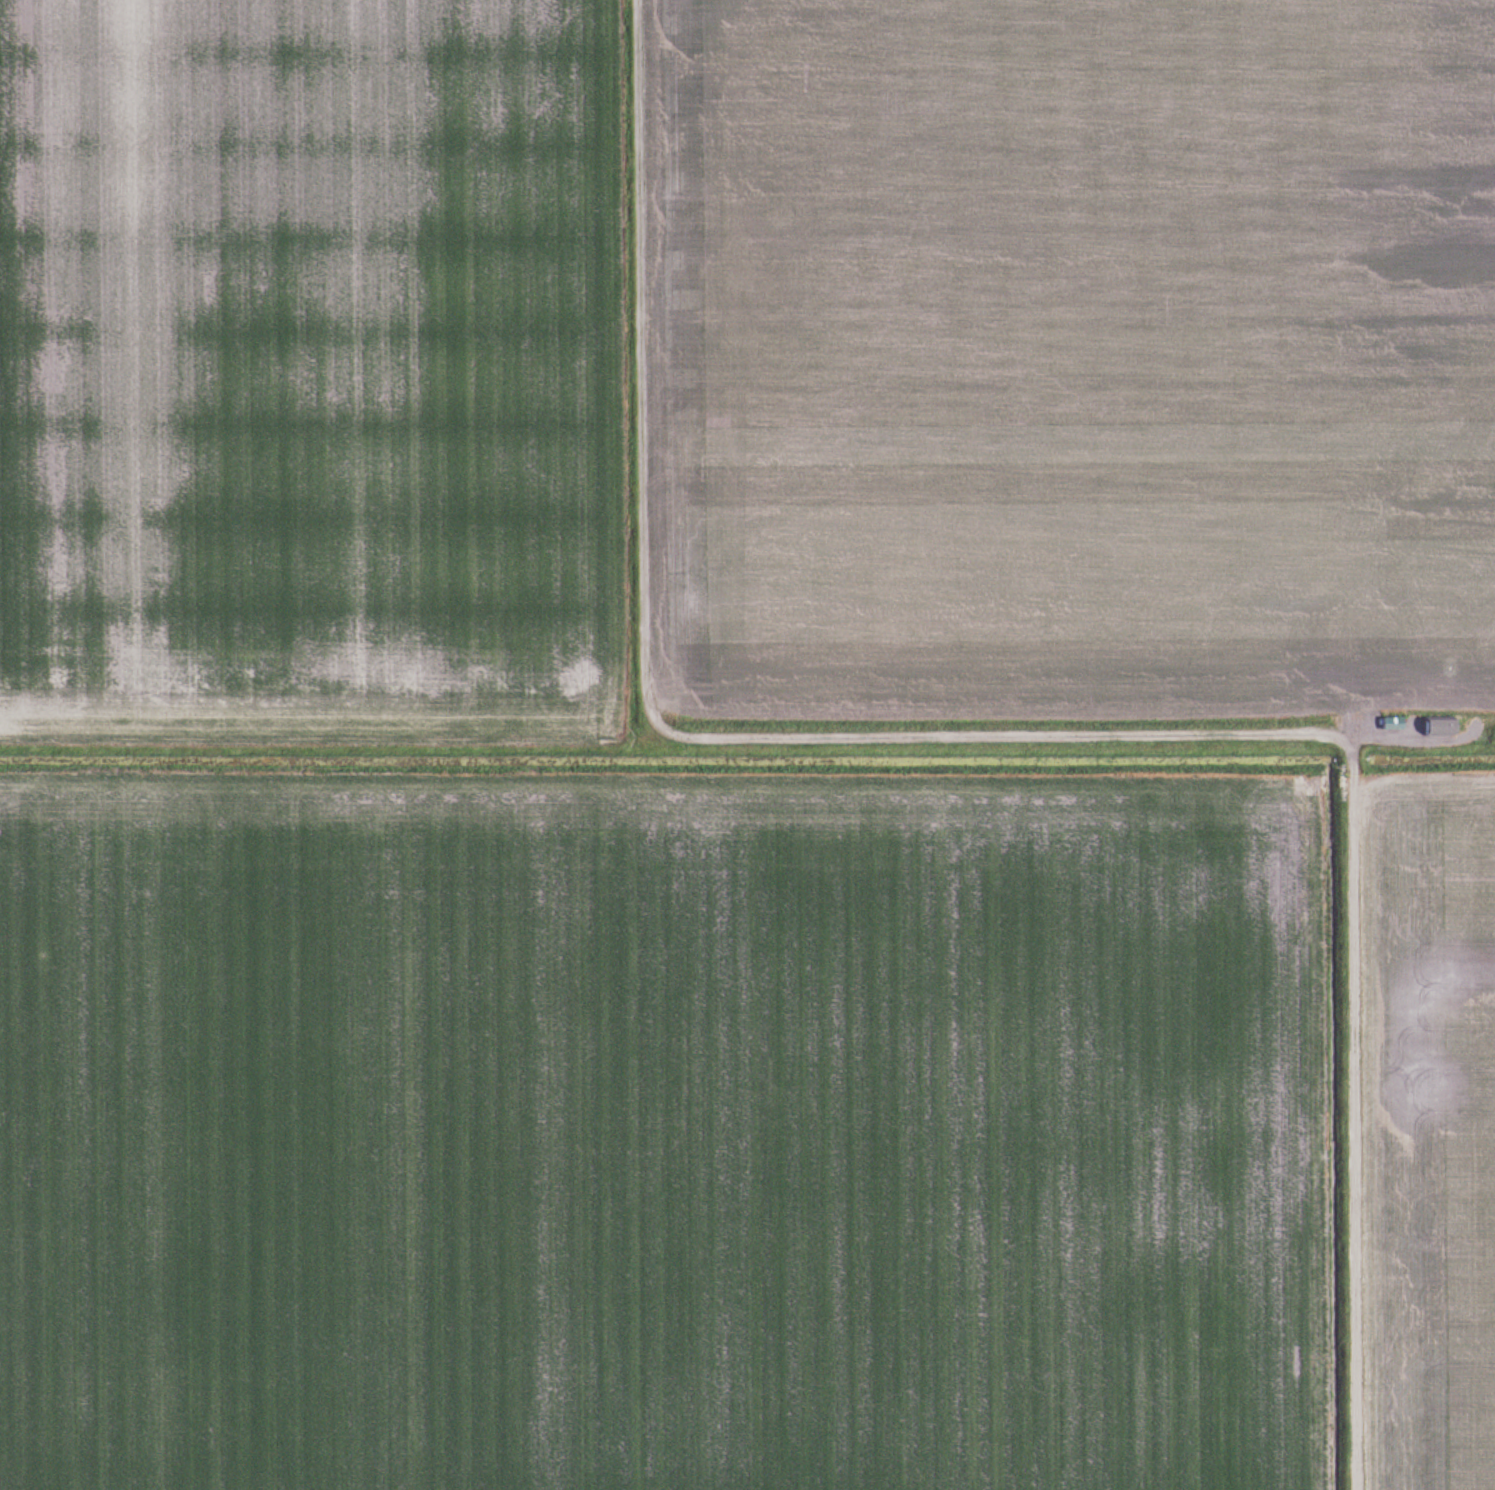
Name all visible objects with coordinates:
crop: (745, 358)
building: (1394, 724)
road: (706, 739)
road: (1351, 1109)
crop: (663, 1130)
crop: (1428, 1131)

